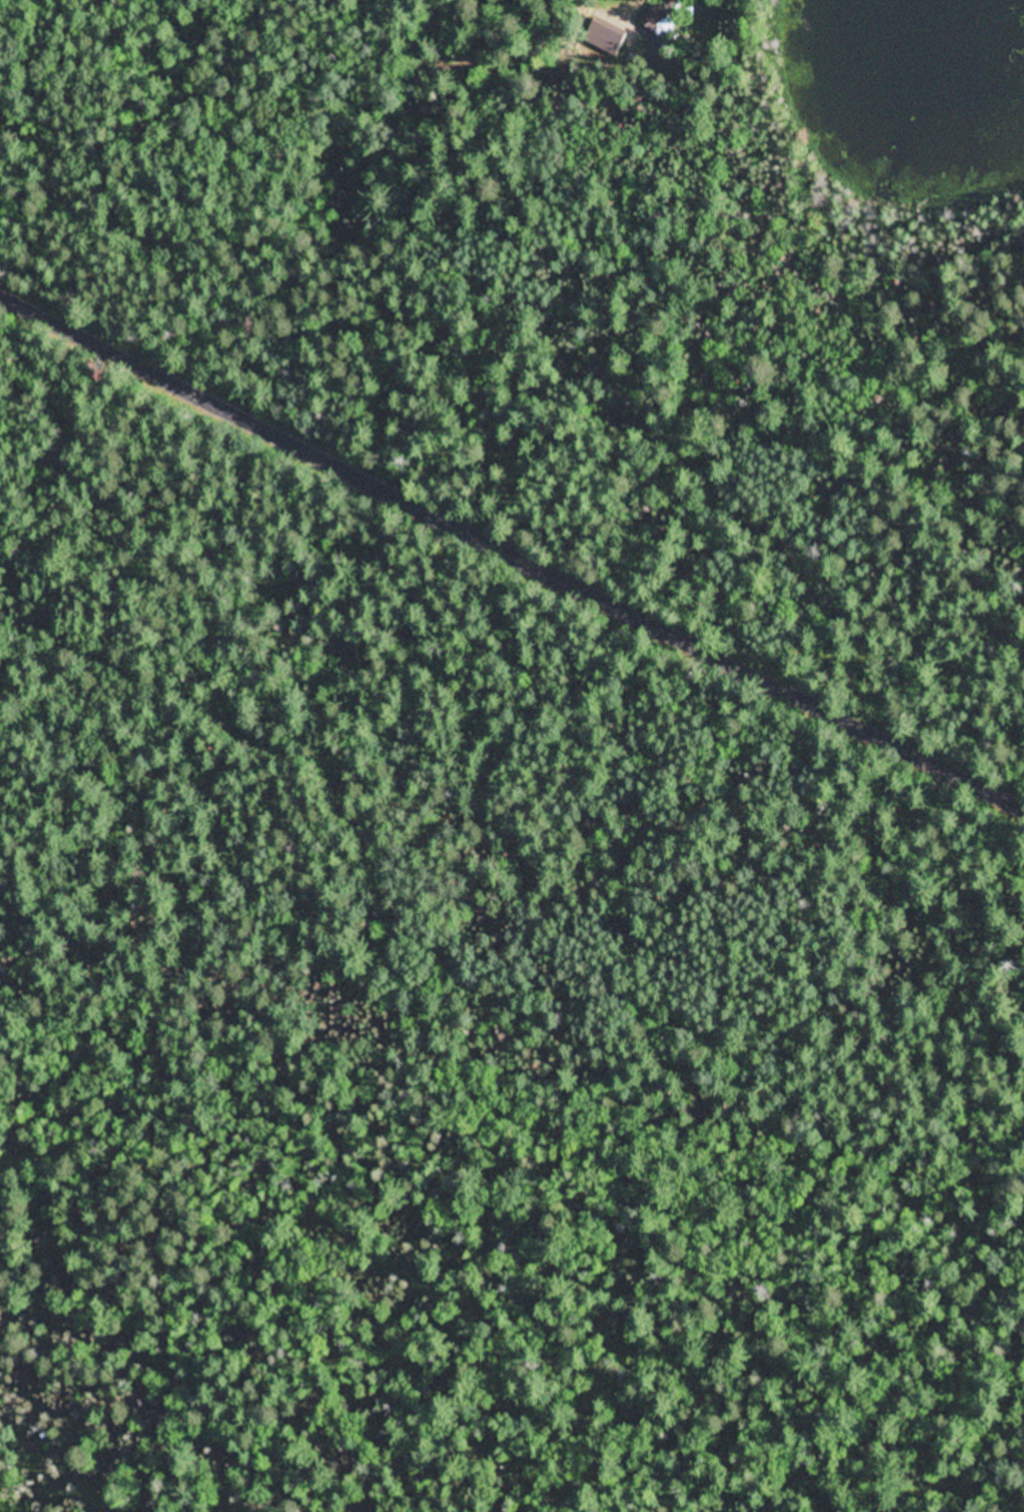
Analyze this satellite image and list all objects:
building: (650, 18)
road: (510, 548)

